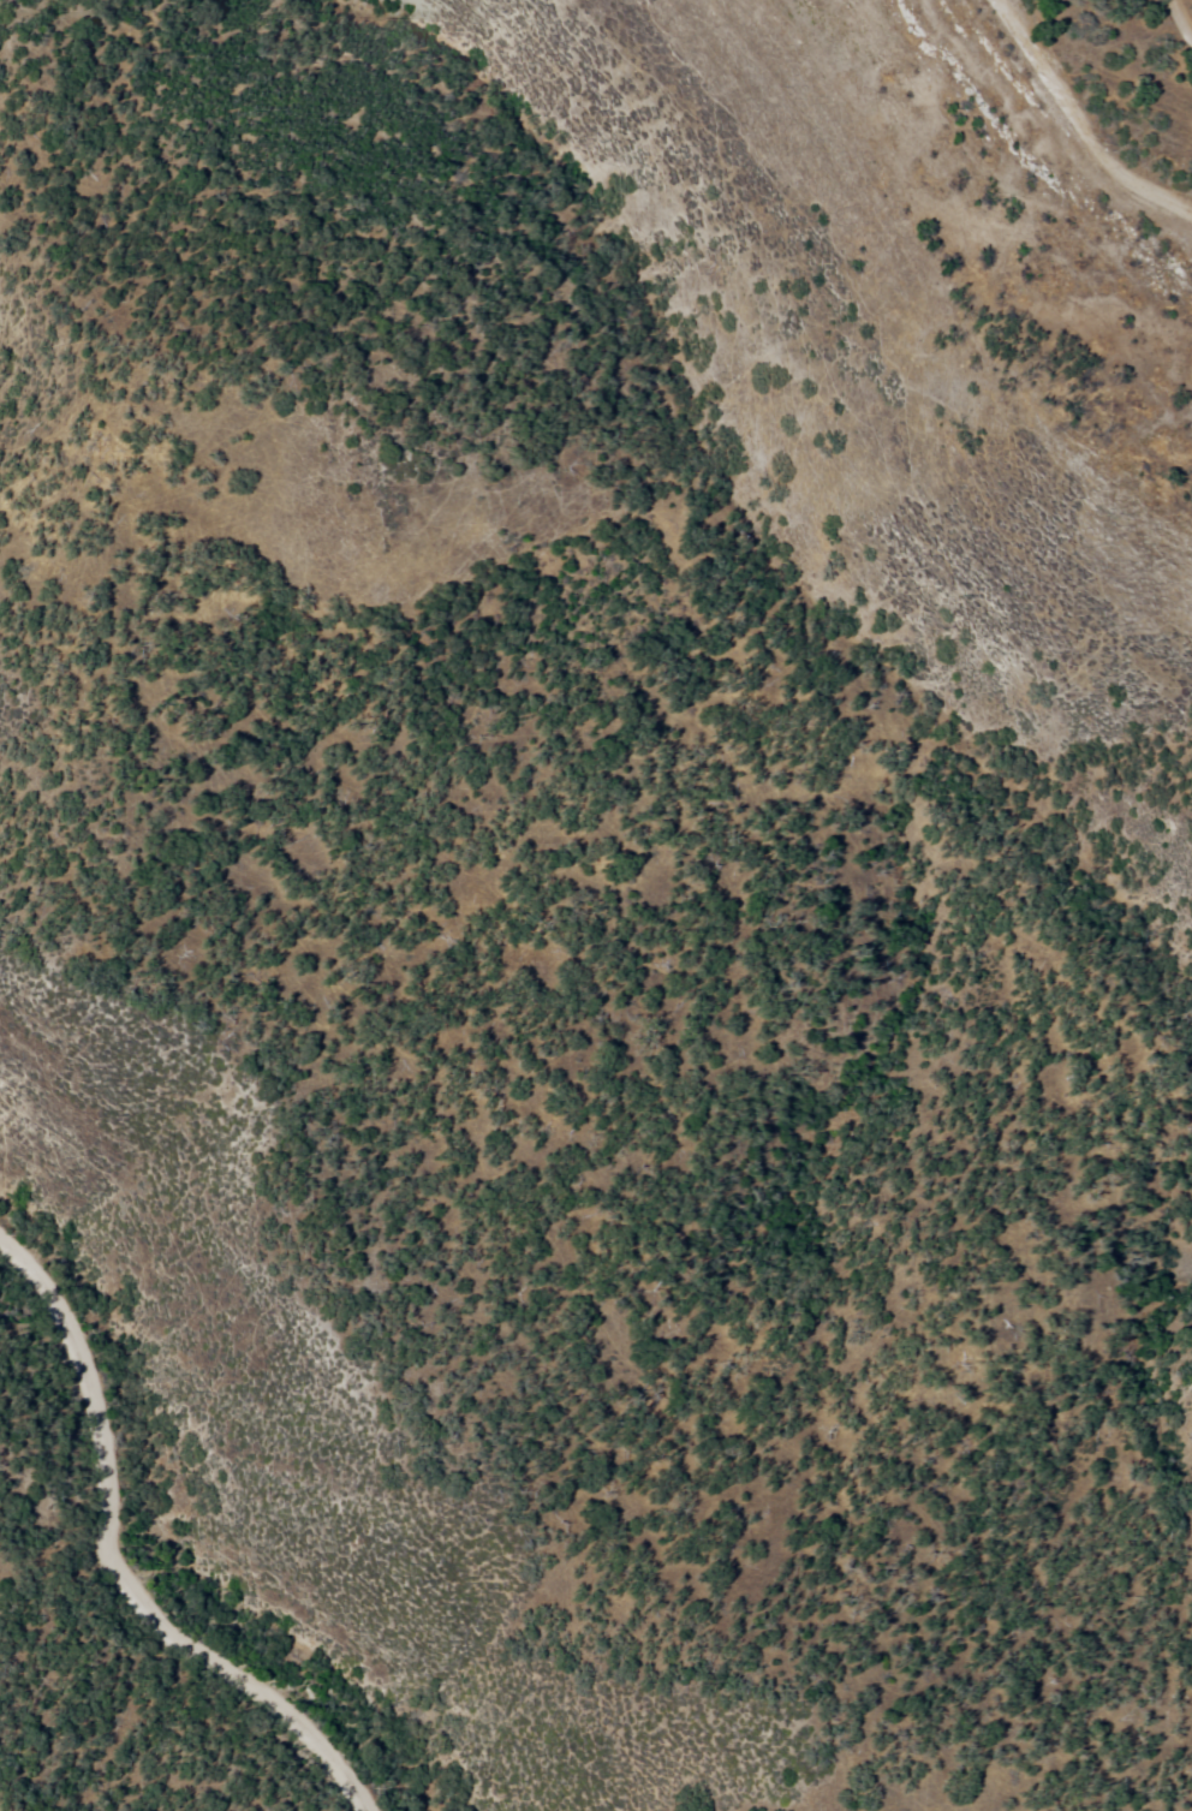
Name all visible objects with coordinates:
road: (1181, 20)
road: (115, 1566)

